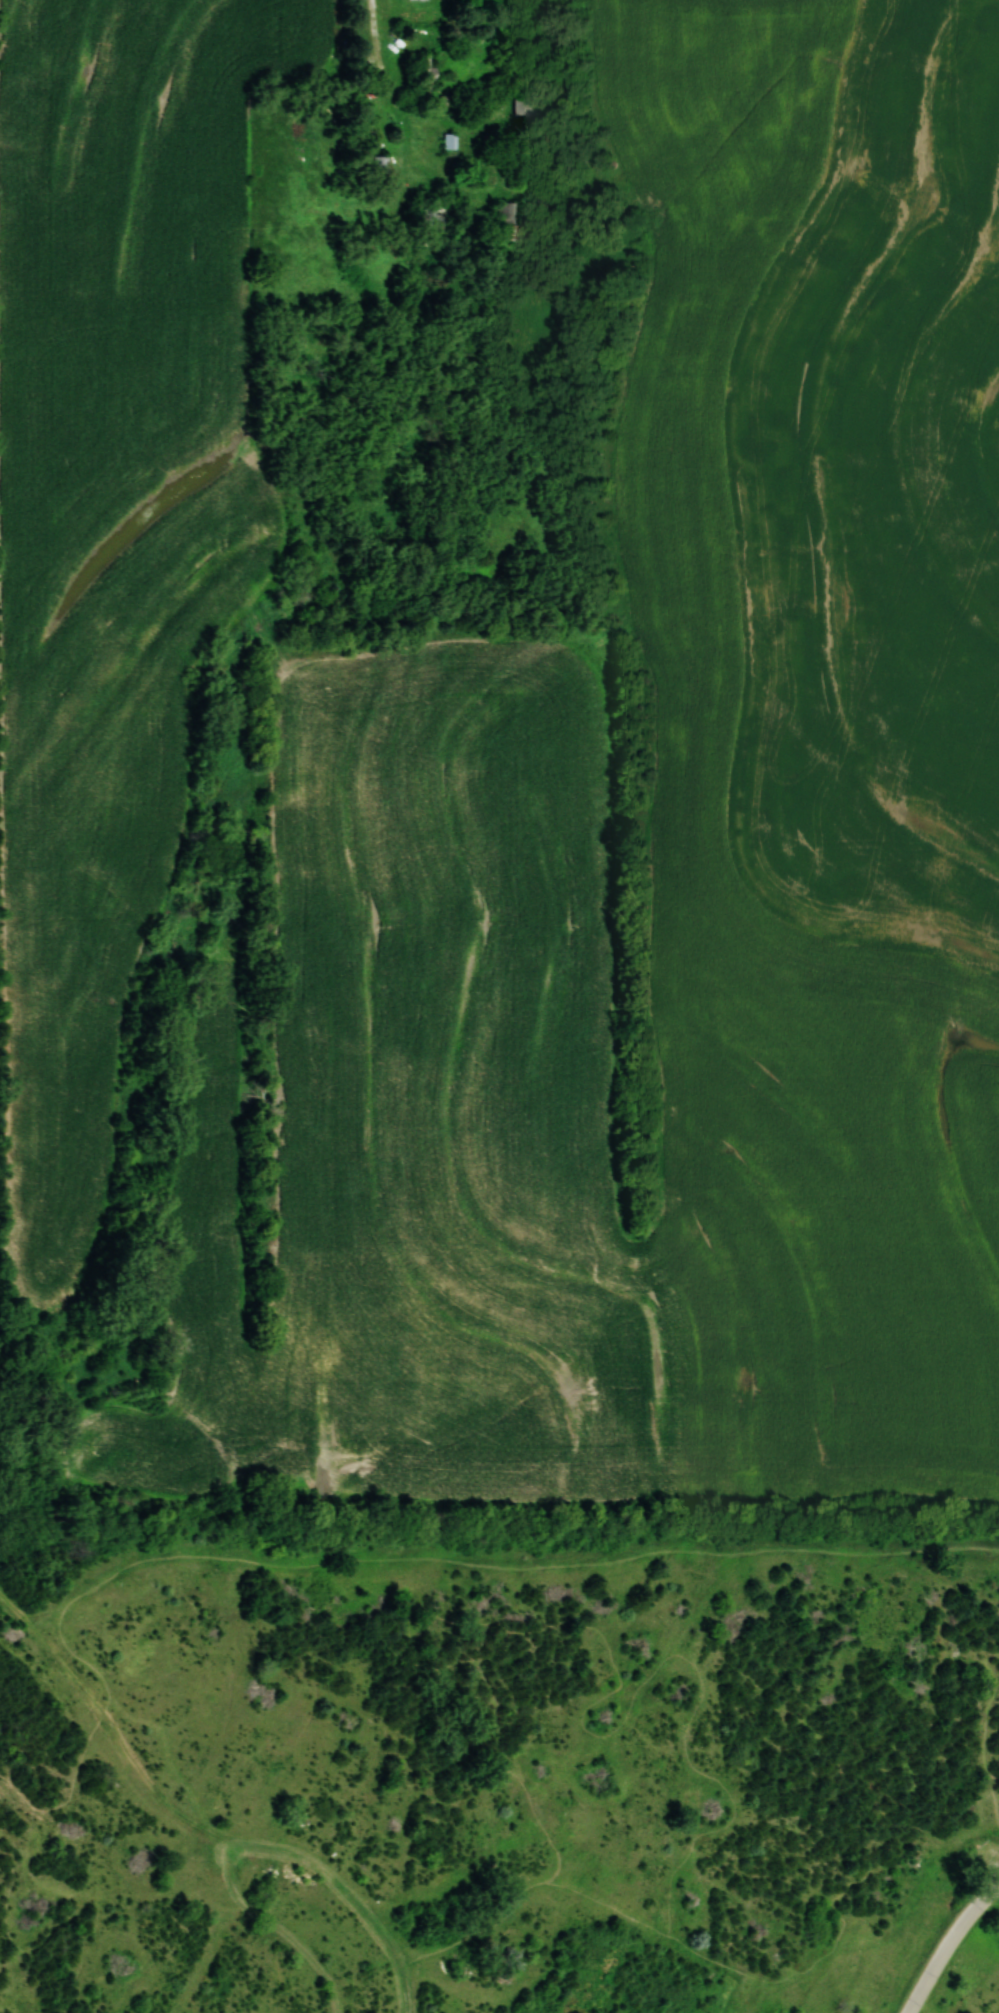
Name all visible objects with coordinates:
building: (425, 65)
building: (530, 105)
building: (506, 212)
road: (523, 1564)
road: (9, 1603)
road: (606, 1642)
road: (993, 1656)
road: (312, 1666)
road: (107, 1725)
road: (987, 1734)
park: (498, 1754)
road: (219, 1834)
road: (499, 1864)
road: (323, 1866)
road: (431, 1887)
road: (7, 1895)
road: (83, 1927)
road: (234, 1927)
road: (284, 1928)
road: (493, 1932)
road: (397, 1945)
road: (949, 1945)
road: (6, 1966)
road: (414, 1985)

